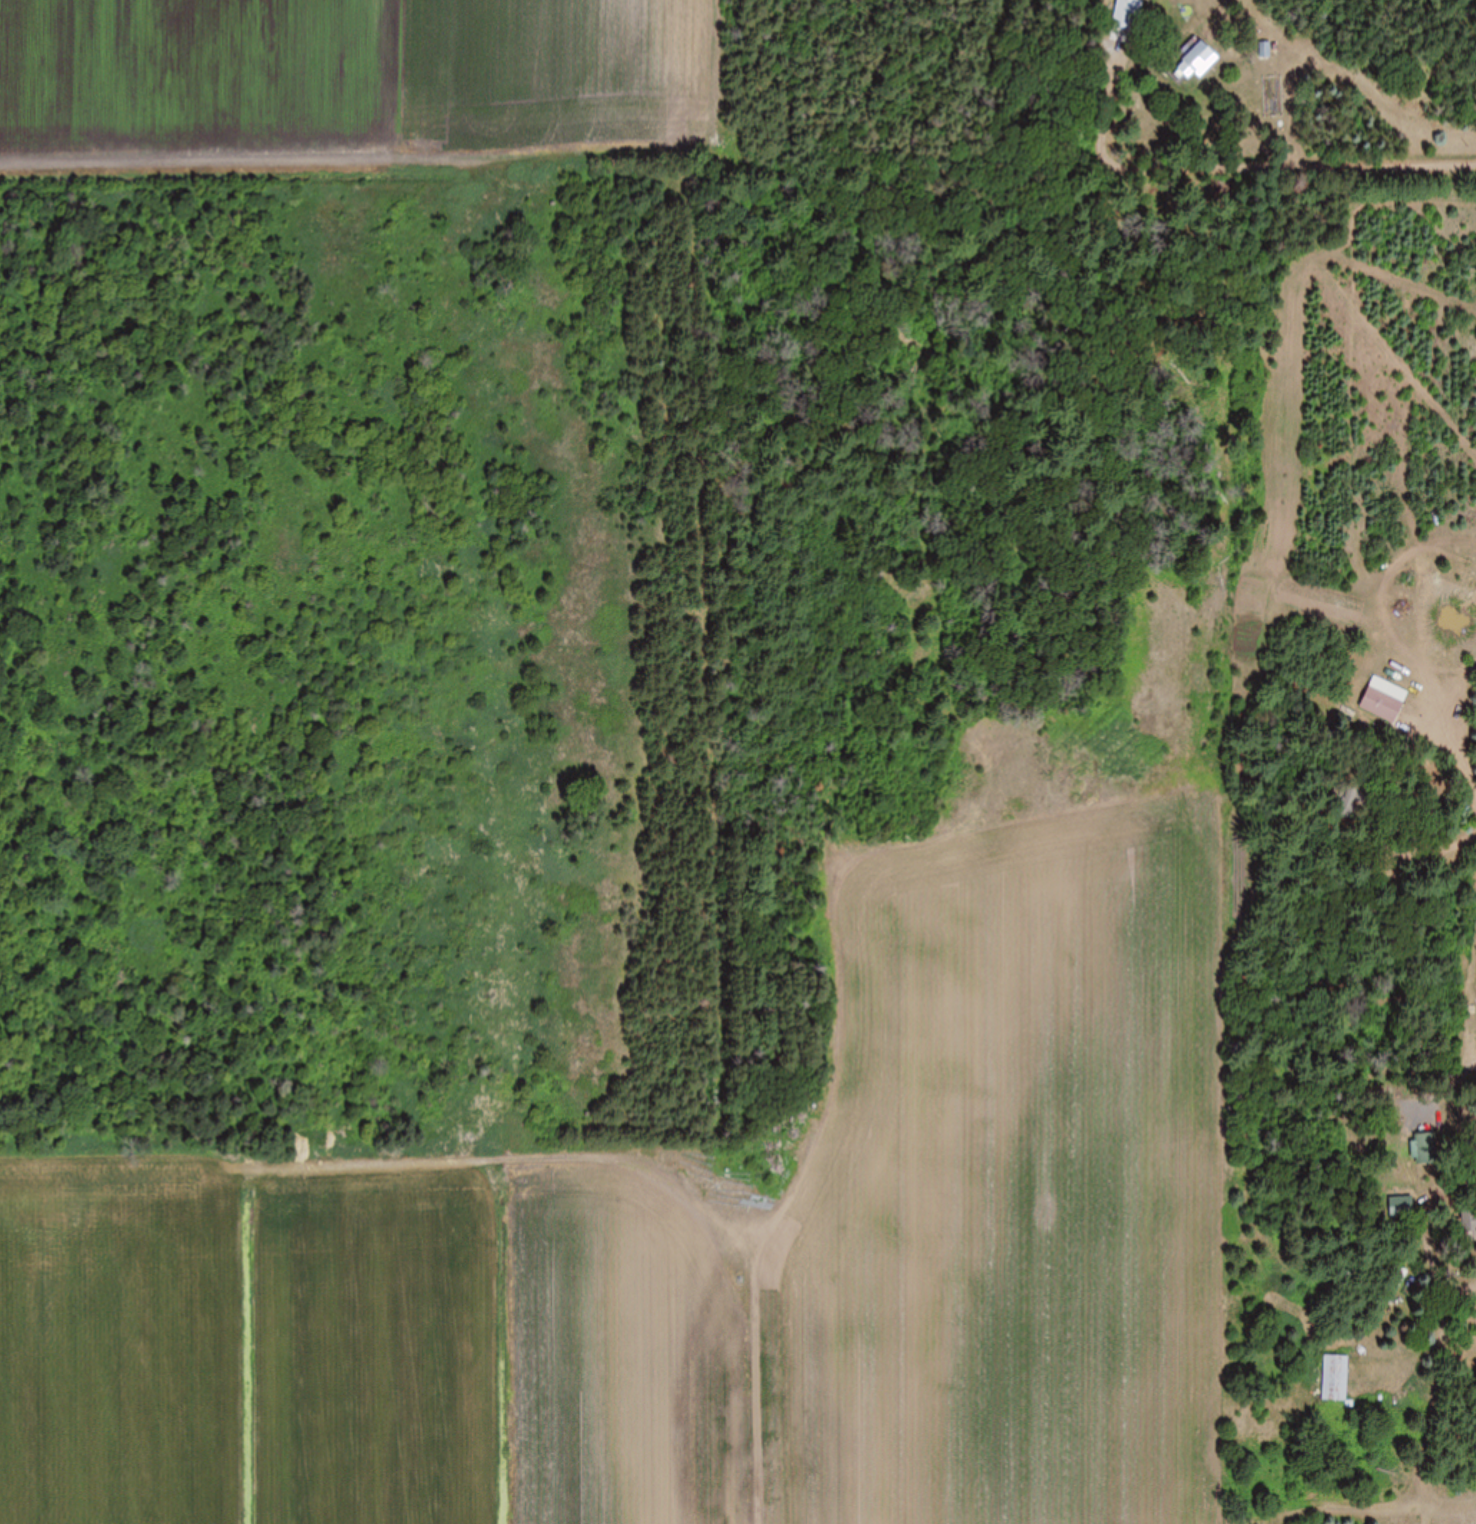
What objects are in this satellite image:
building: (1267, 49)
building: (1193, 59)
road: (1338, 106)
building: (1380, 705)
building: (1349, 803)
road: (1466, 938)
building: (1423, 1148)
building: (1468, 1225)
road: (1429, 1229)
road: (1437, 1375)
building: (1334, 1379)

